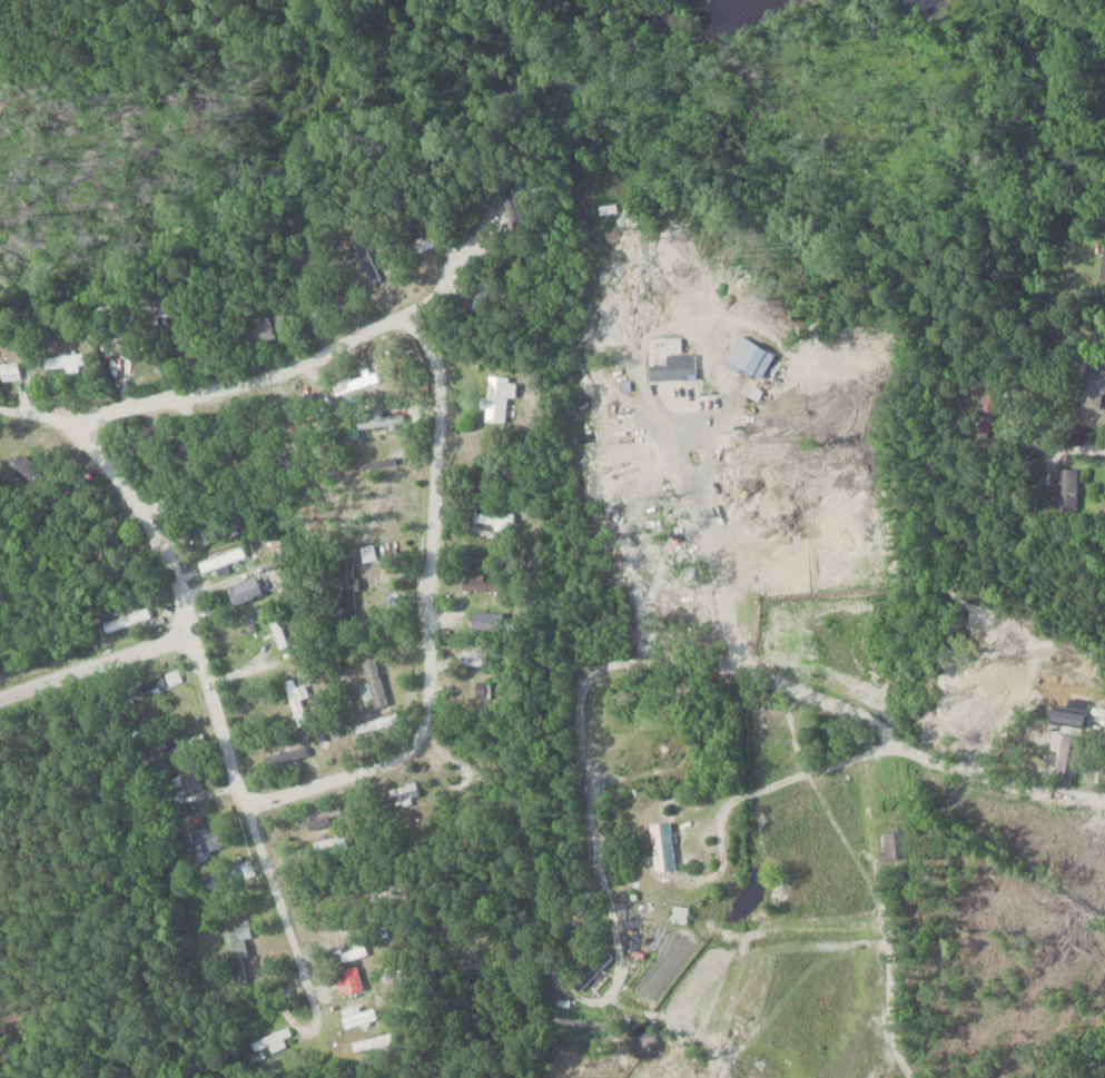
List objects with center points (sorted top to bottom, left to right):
building: (1102, 263)
building: (157, 304)
building: (263, 329)
building: (62, 363)
building: (674, 363)
building: (8, 372)
road: (260, 373)
building: (356, 387)
building: (1091, 387)
building: (496, 396)
building: (385, 418)
road: (1085, 447)
building: (24, 469)
building: (1065, 487)
building: (493, 516)
building: (205, 534)
building: (346, 589)
building: (246, 590)
road: (431, 612)
building: (128, 619)
building: (475, 659)
road: (96, 664)
road: (629, 678)
building: (374, 681)
building: (148, 685)
building: (478, 691)
building: (296, 698)
building: (375, 721)
road: (224, 733)
building: (159, 748)
building: (1068, 755)
building: (185, 777)
building: (401, 793)
building: (319, 813)
road: (994, 819)
building: (206, 837)
building: (891, 843)
building: (661, 845)
building: (220, 876)
building: (238, 948)
building: (591, 968)
building: (348, 977)
building: (357, 1013)

